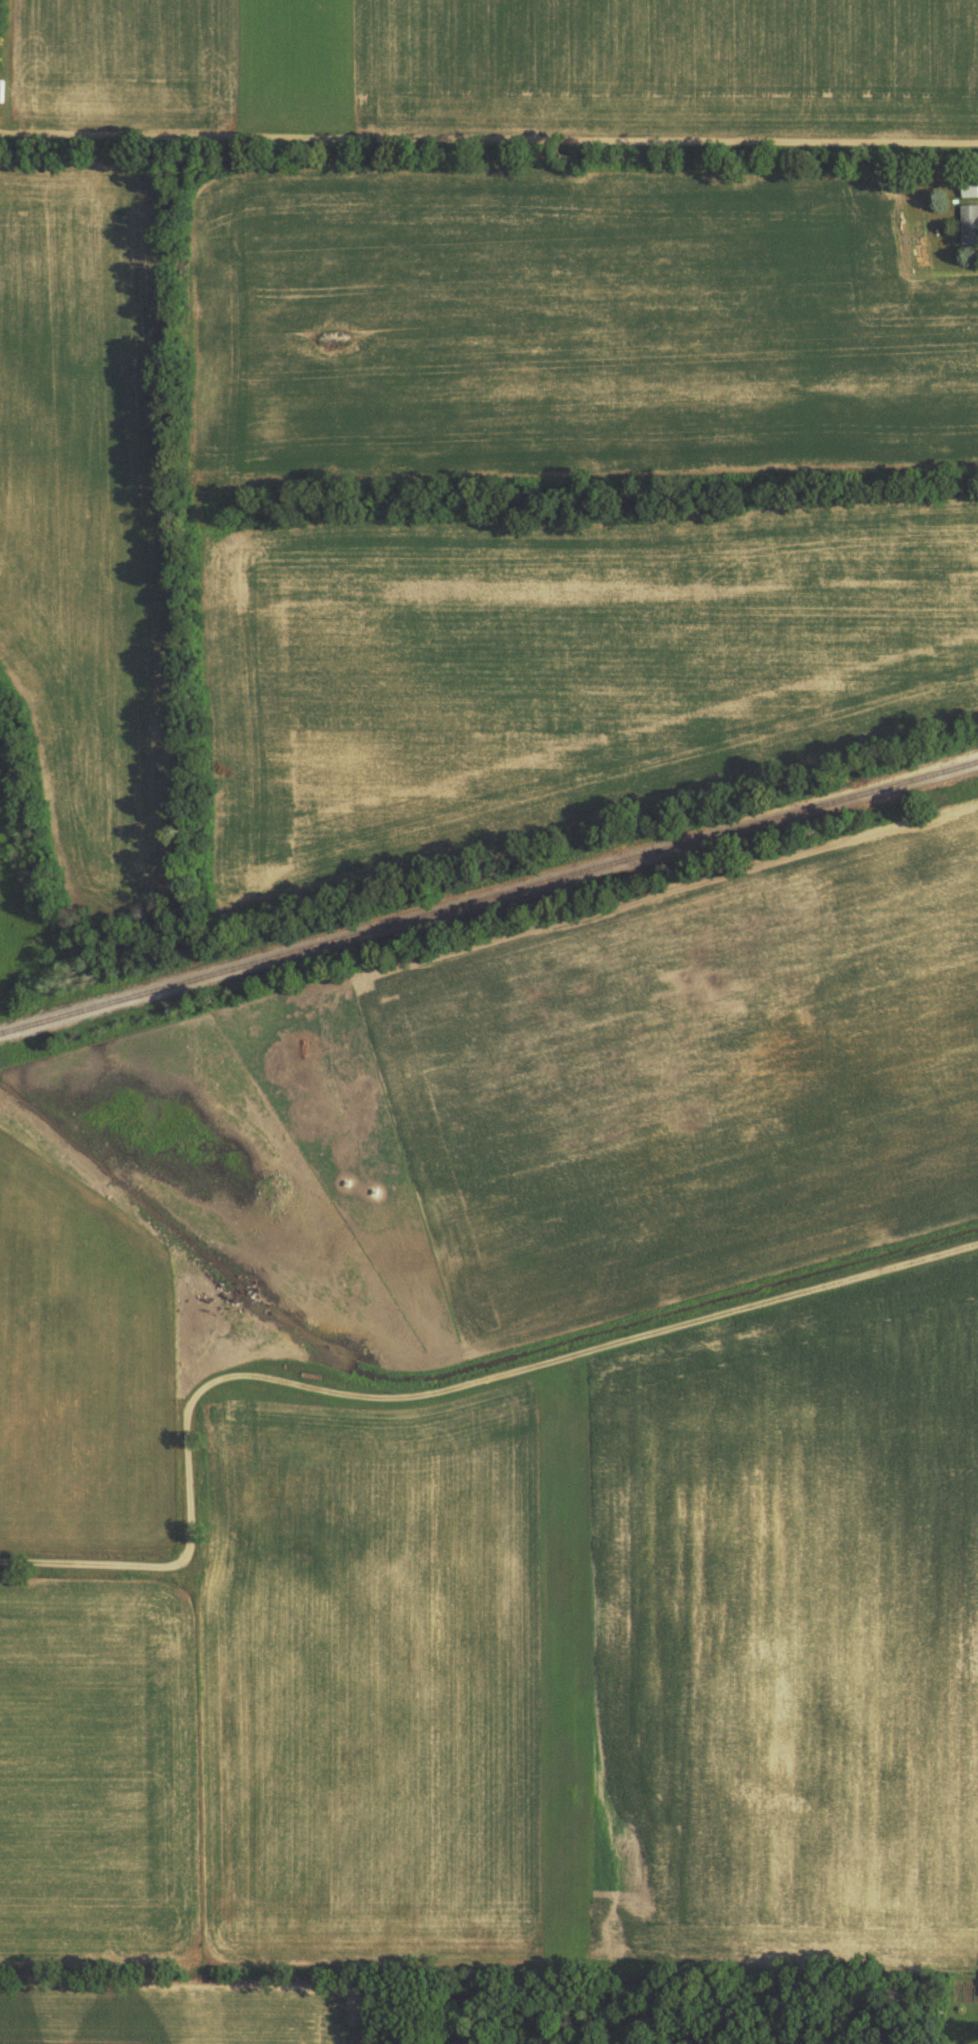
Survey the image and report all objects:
building: (970, 187)
building: (969, 212)
railway: (489, 897)

